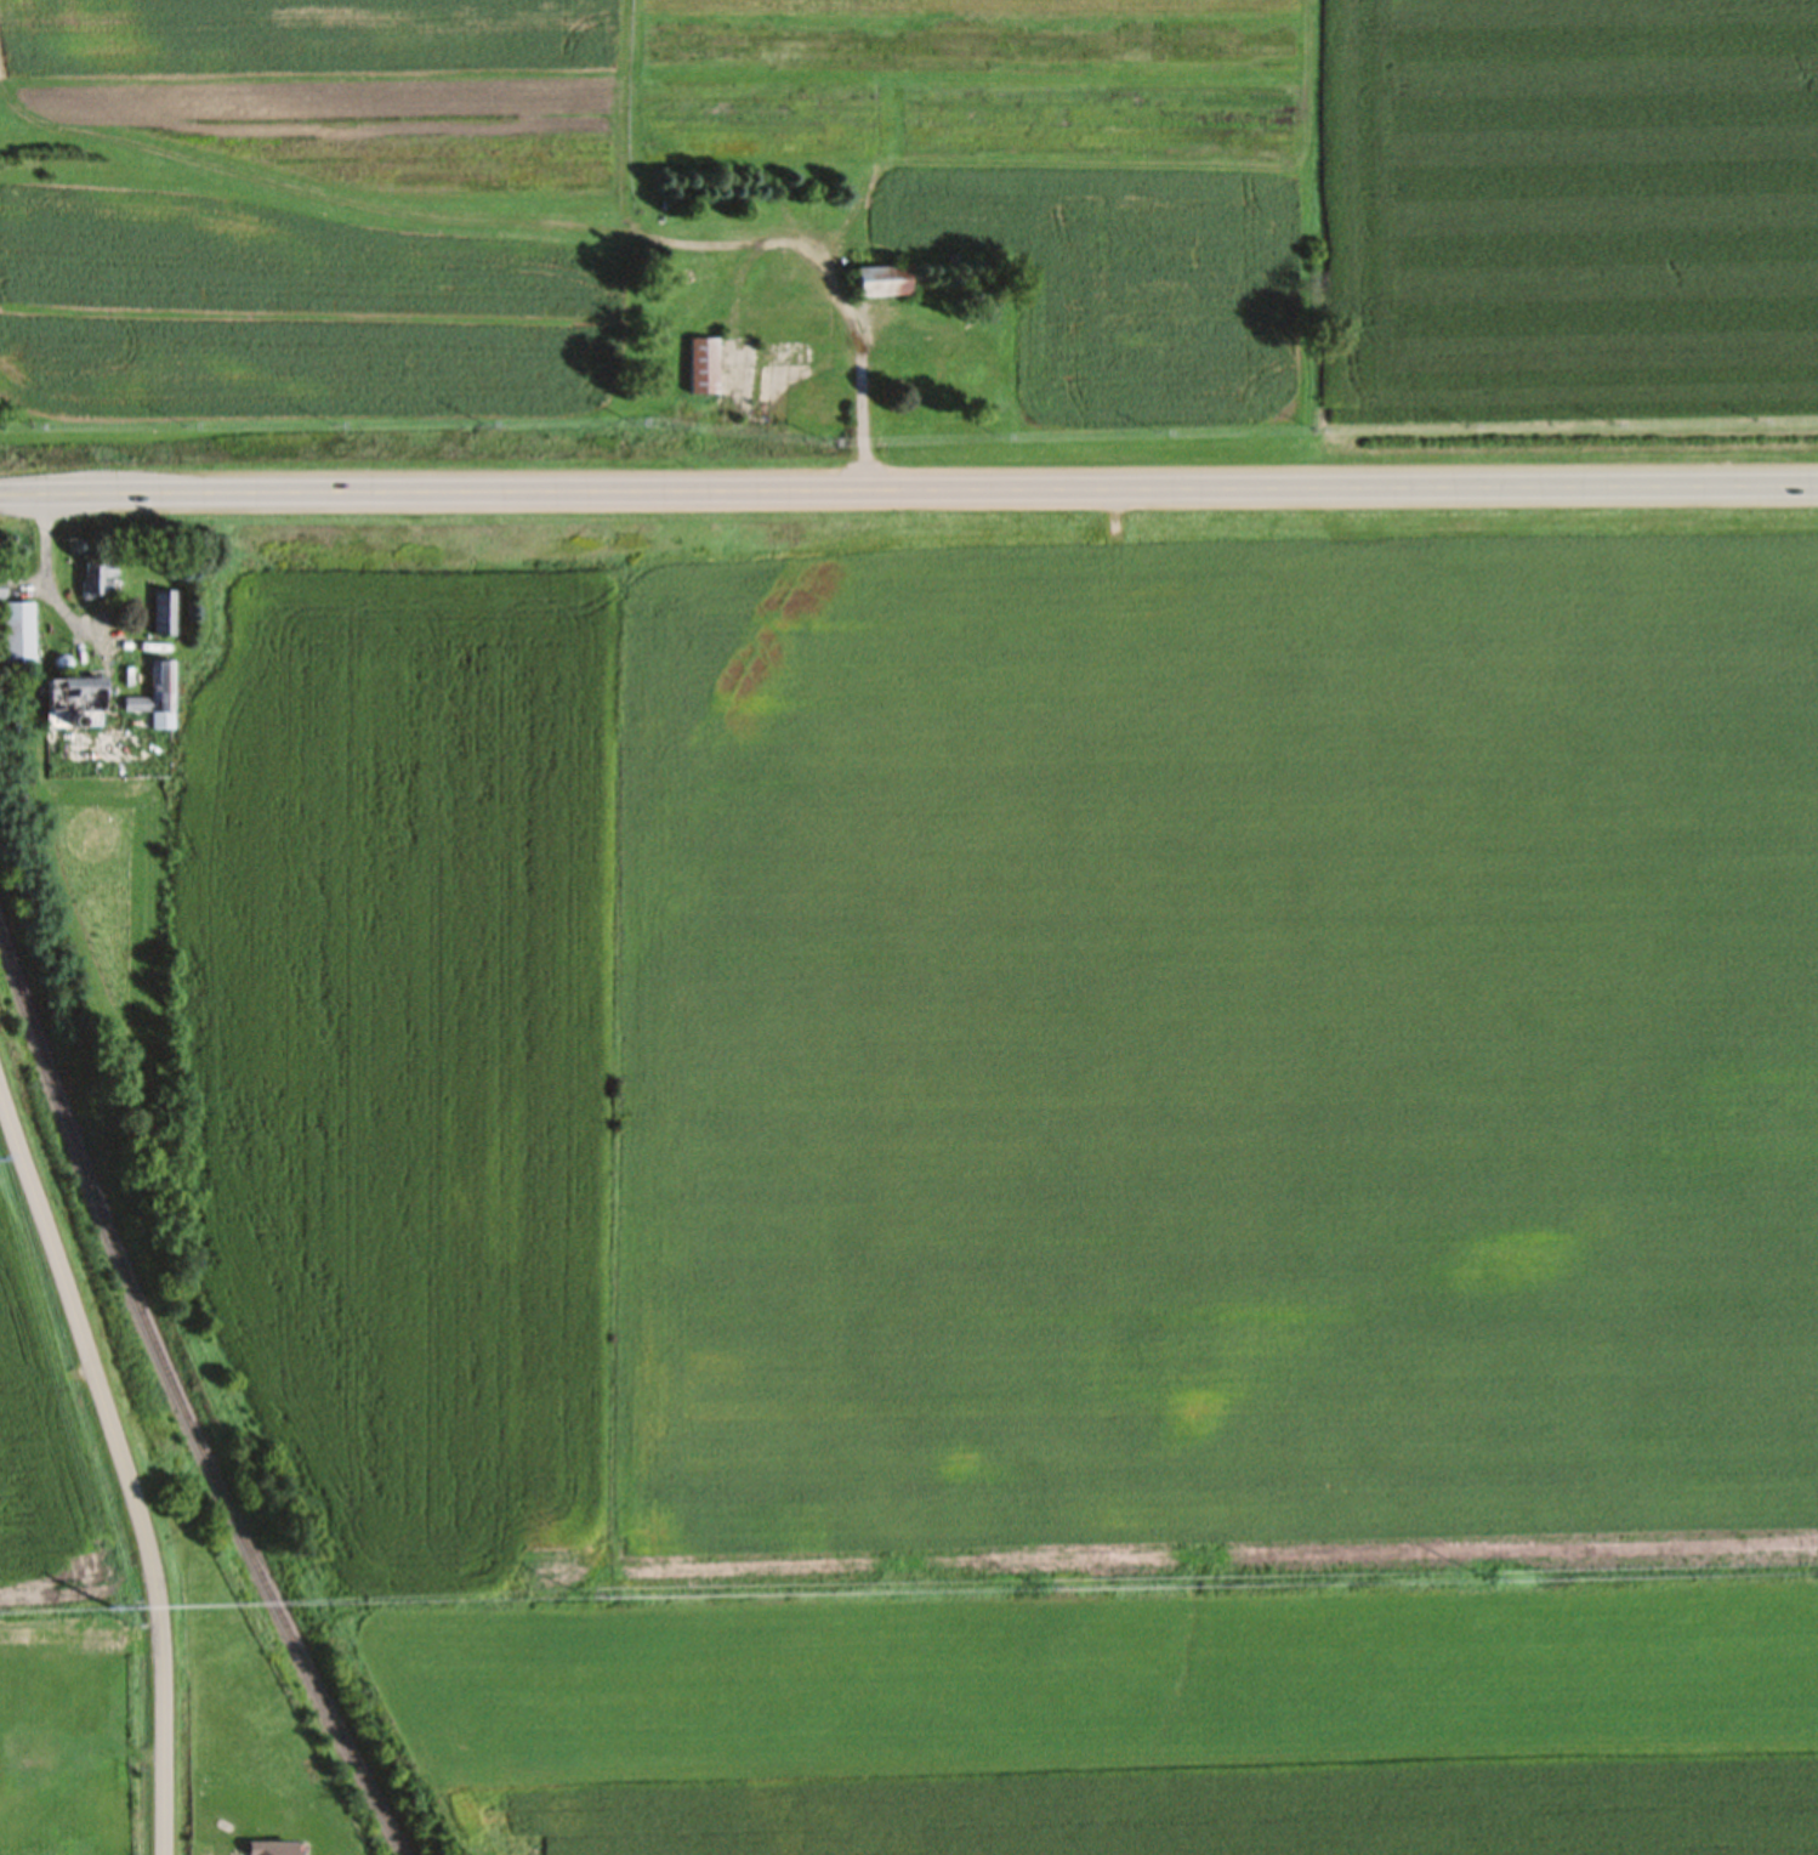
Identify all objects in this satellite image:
crop: (629, 202)
crop: (1574, 209)
building: (879, 289)
building: (790, 329)
building: (700, 373)
building: (962, 374)
road: (908, 495)
building: (95, 586)
building: (0, 595)
building: (1461, 608)
building: (159, 619)
building: (15, 639)
building: (74, 700)
building: (153, 703)
crop: (999, 1056)
railway: (177, 1411)
road: (124, 1479)
power tower: (108, 1616)

